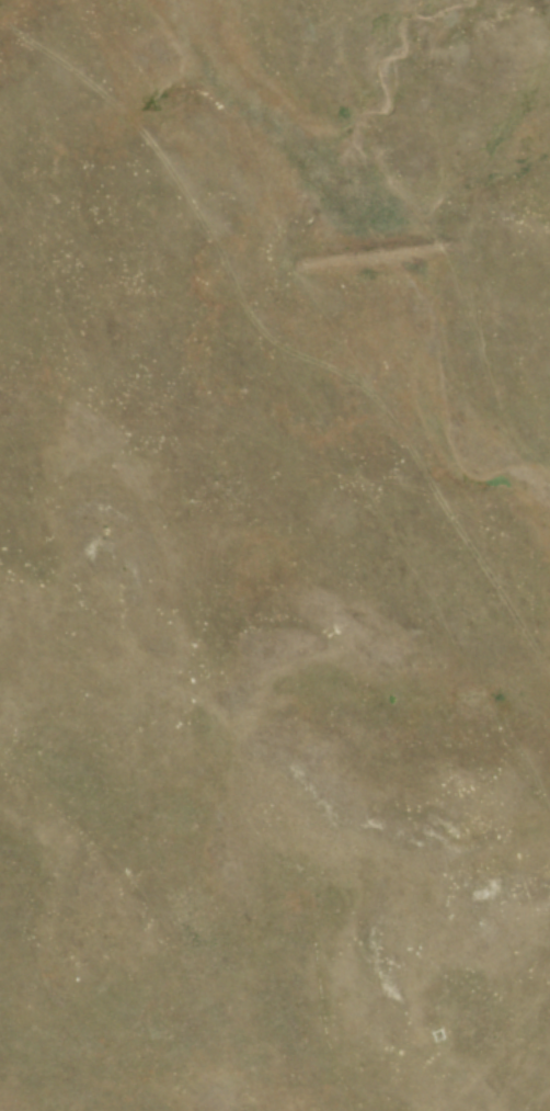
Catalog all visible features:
dam: (373, 254)

